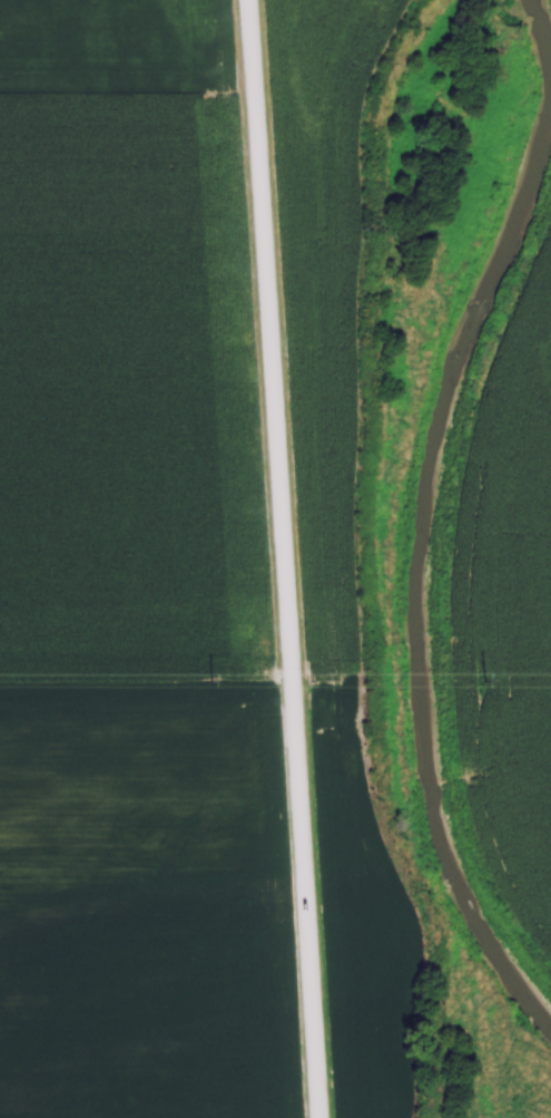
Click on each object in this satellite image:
road: (285, 558)
river: (424, 576)
power tower: (215, 679)
power tower: (491, 679)

